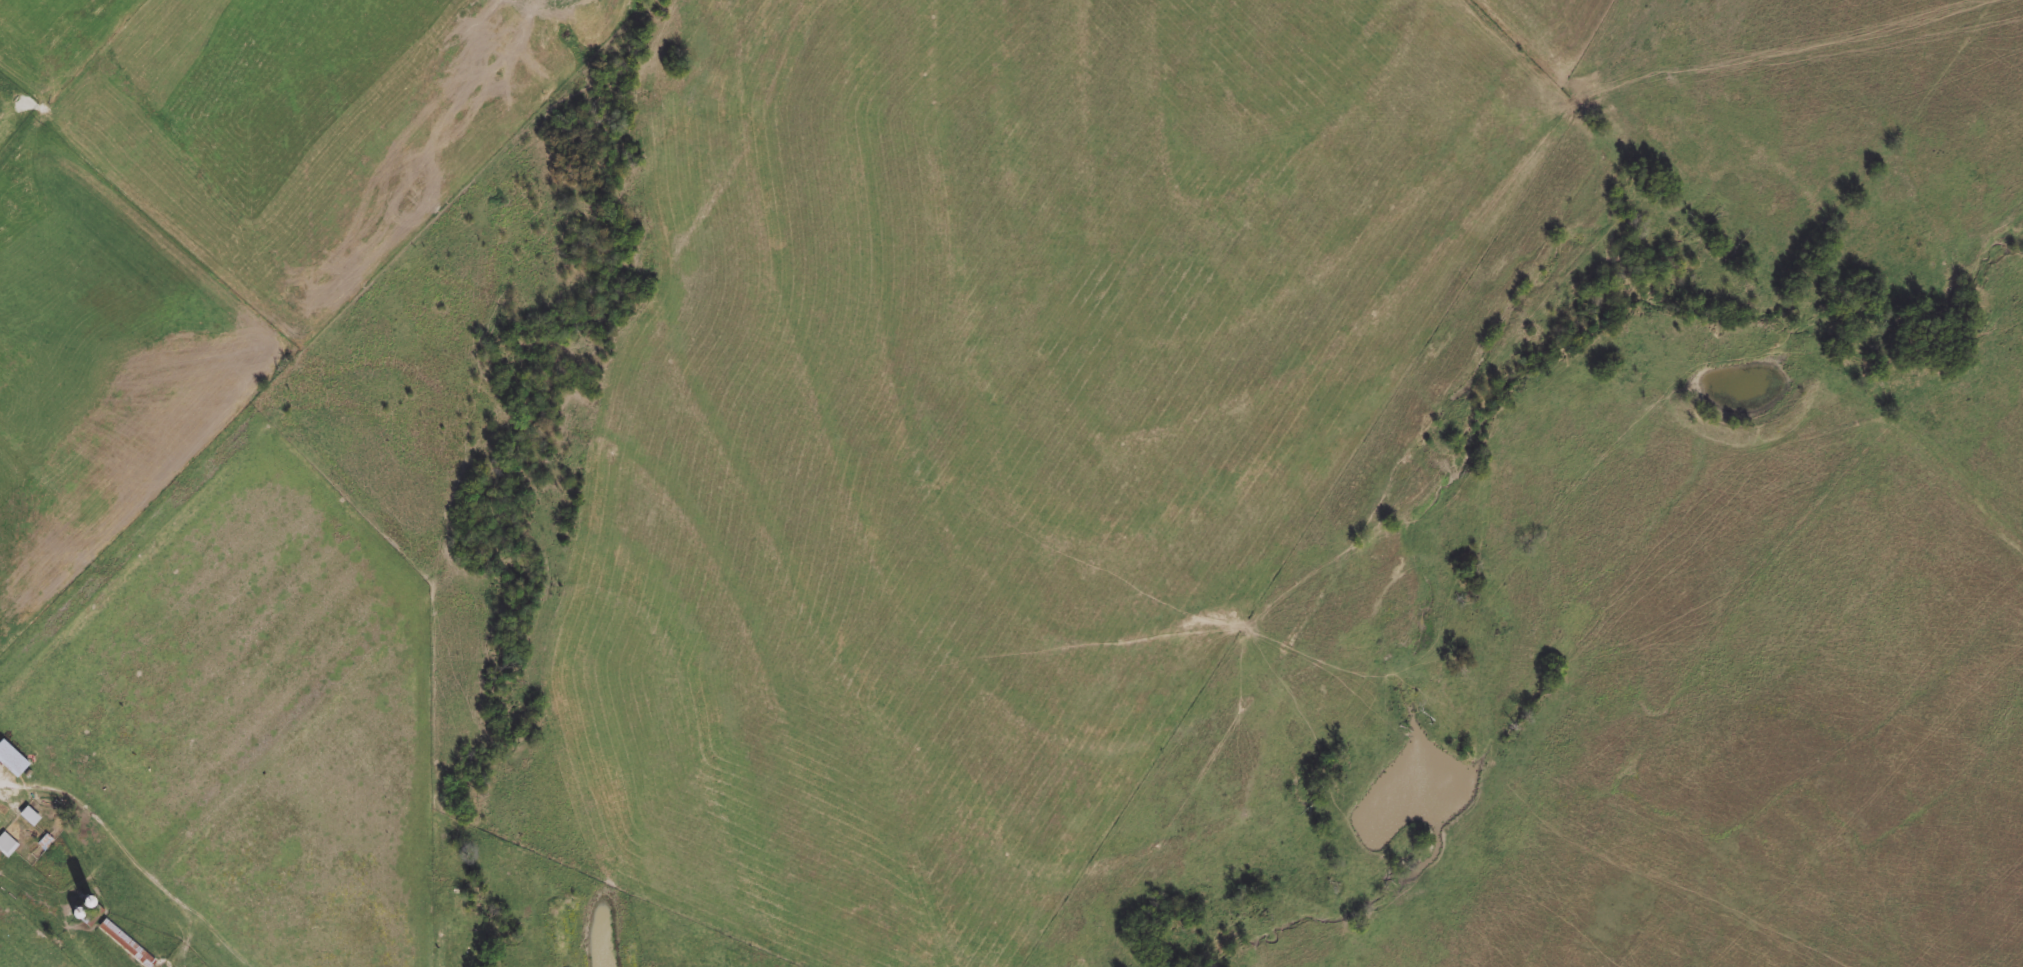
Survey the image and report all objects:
building: (12, 758)
building: (6, 843)
building: (126, 943)

